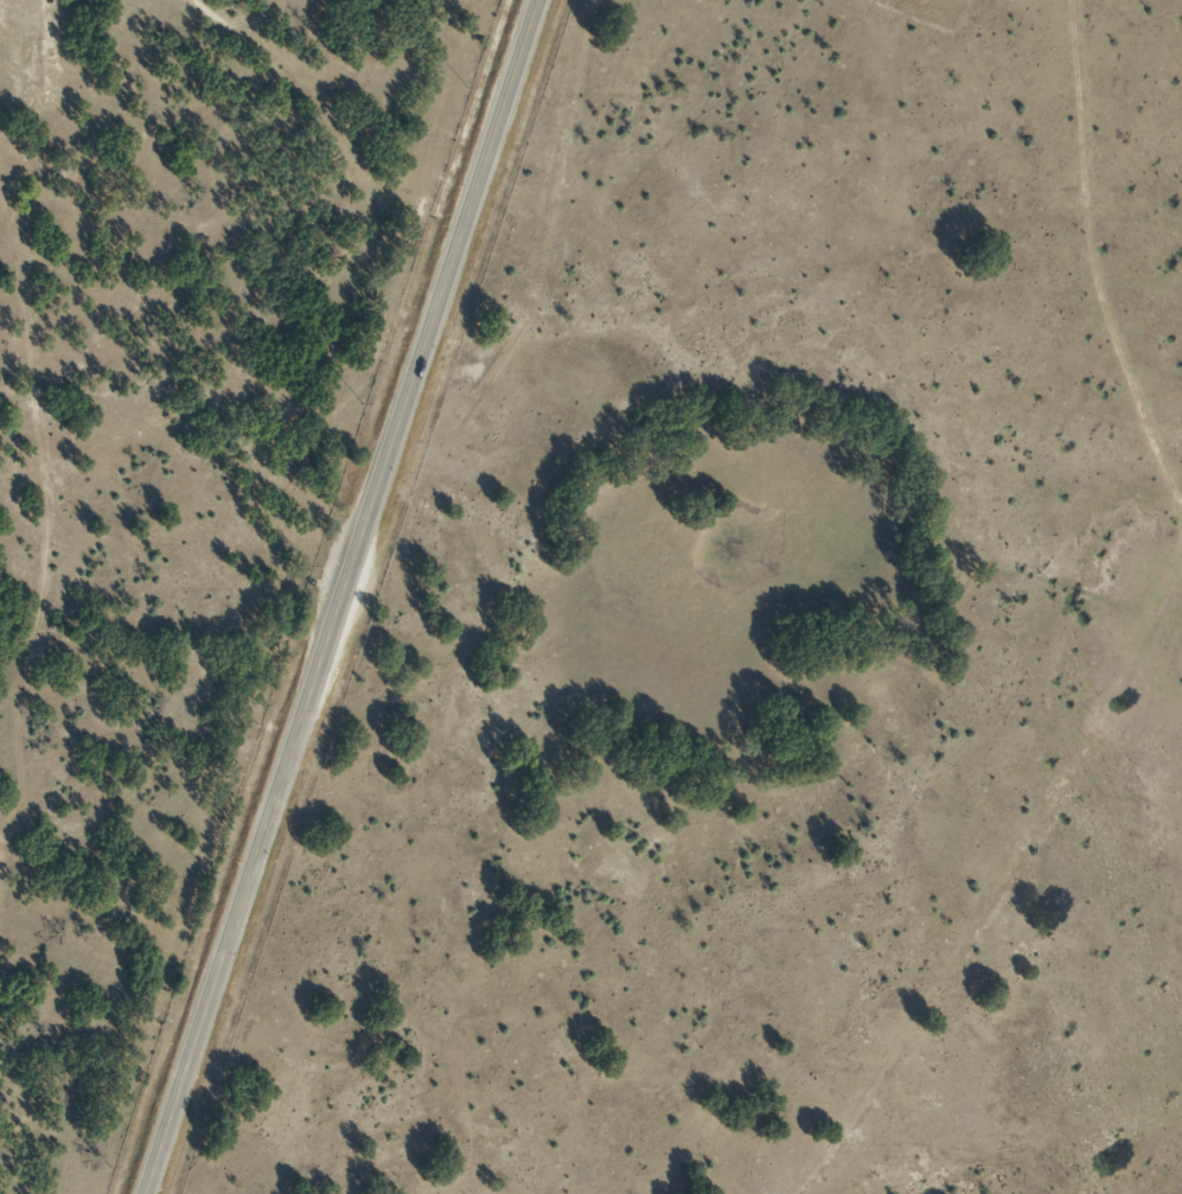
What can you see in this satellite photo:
road: (345, 598)

